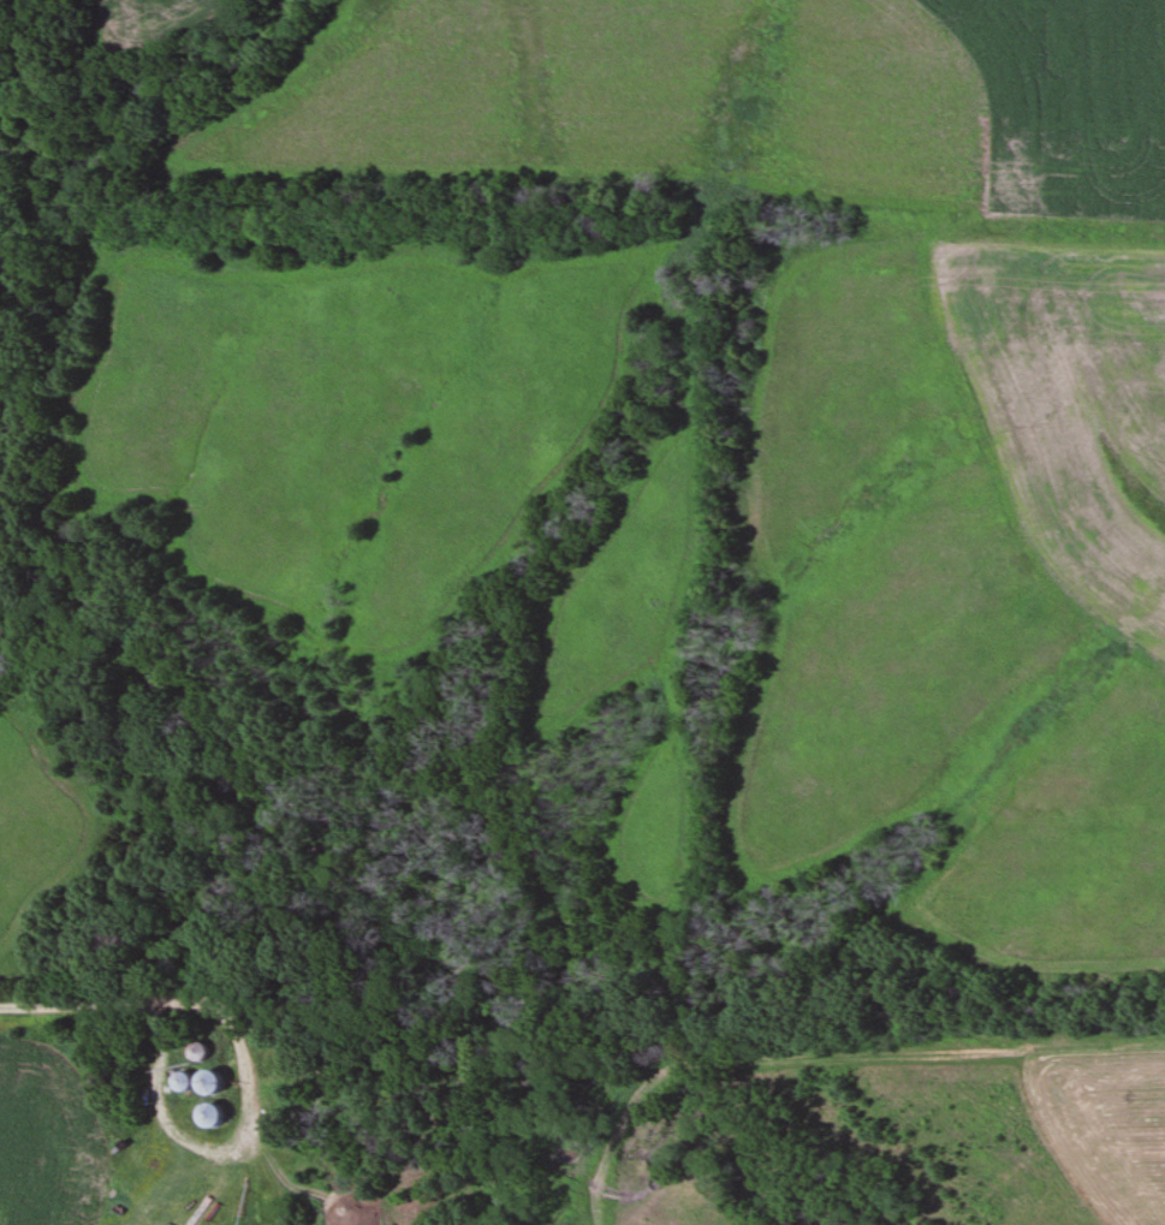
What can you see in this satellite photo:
building: (202, 1051)
building: (189, 1081)
building: (216, 1116)

